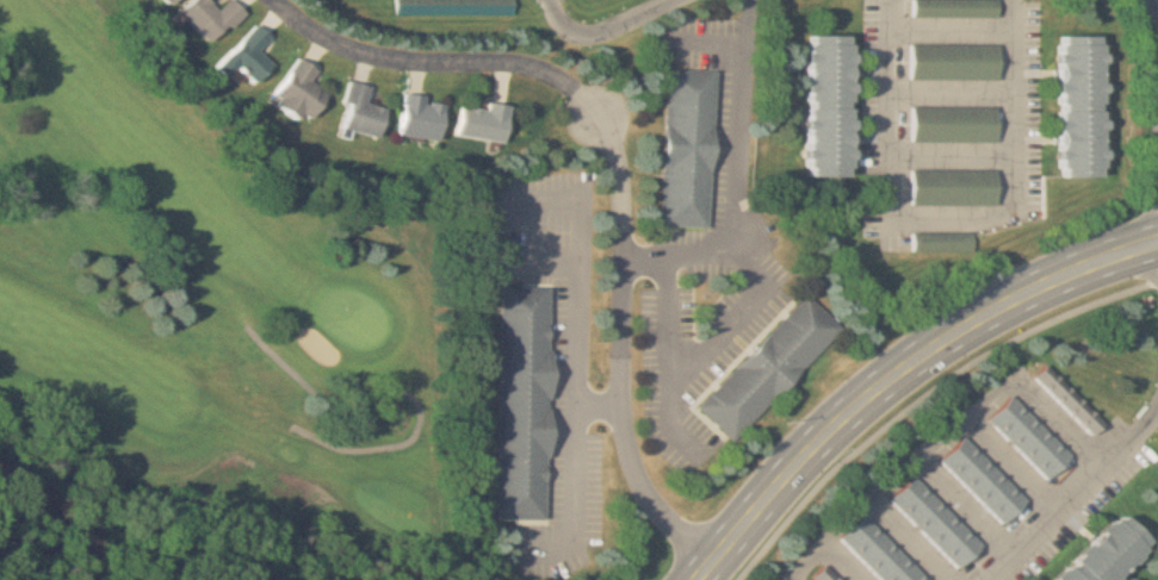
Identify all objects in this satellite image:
building: (173, 1)
road: (1156, 5)
building: (452, 6)
building: (954, 6)
building: (213, 17)
road: (955, 27)
road: (599, 33)
building: (249, 55)
building: (950, 58)
building: (826, 69)
building: (1076, 70)
building: (302, 89)
road: (956, 89)
building: (364, 110)
building: (423, 116)
building: (485, 120)
building: (952, 121)
building: (826, 139)
building: (1076, 143)
building: (689, 148)
road: (956, 152)
road: (621, 164)
road: (743, 183)
building: (950, 185)
road: (953, 219)
road: (575, 267)
park: (355, 318)
road: (735, 318)
park: (204, 330)
road: (673, 355)
building: (769, 366)
road: (892, 366)
road: (923, 397)
building: (1066, 399)
building: (525, 403)
road: (601, 405)
road: (943, 430)
building: (1033, 437)
road: (1015, 459)
building: (986, 480)
road: (1077, 491)
road: (967, 501)
river: (64, 516)
building: (939, 522)
road: (912, 535)
building: (881, 553)
building: (1098, 553)
road: (847, 559)
river: (397, 572)
building: (828, 574)

